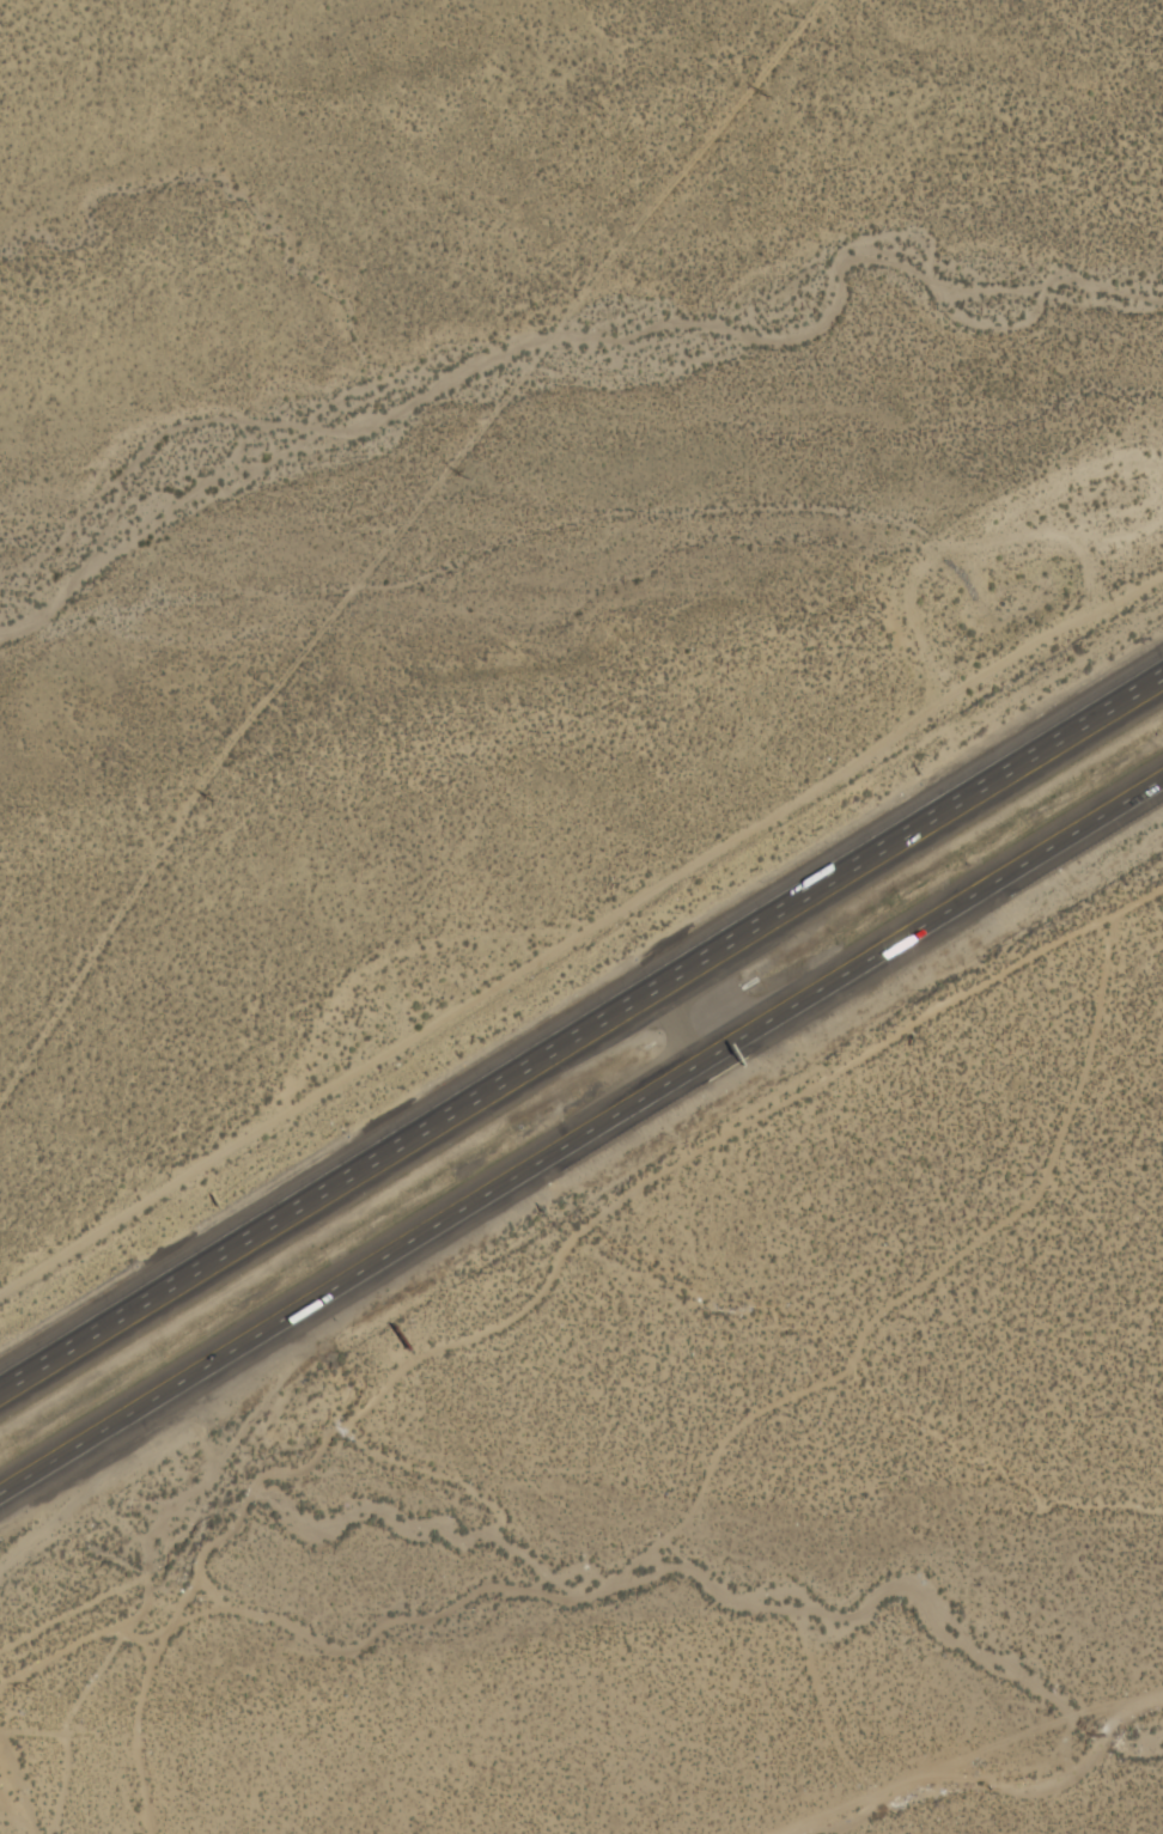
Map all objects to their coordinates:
power tower: (759, 93)
power tower: (458, 474)
power tower: (206, 800)
road: (787, 902)
road: (677, 1023)
road: (581, 1134)
road: (206, 1260)
power tower: (26, 1693)
road: (994, 1789)

